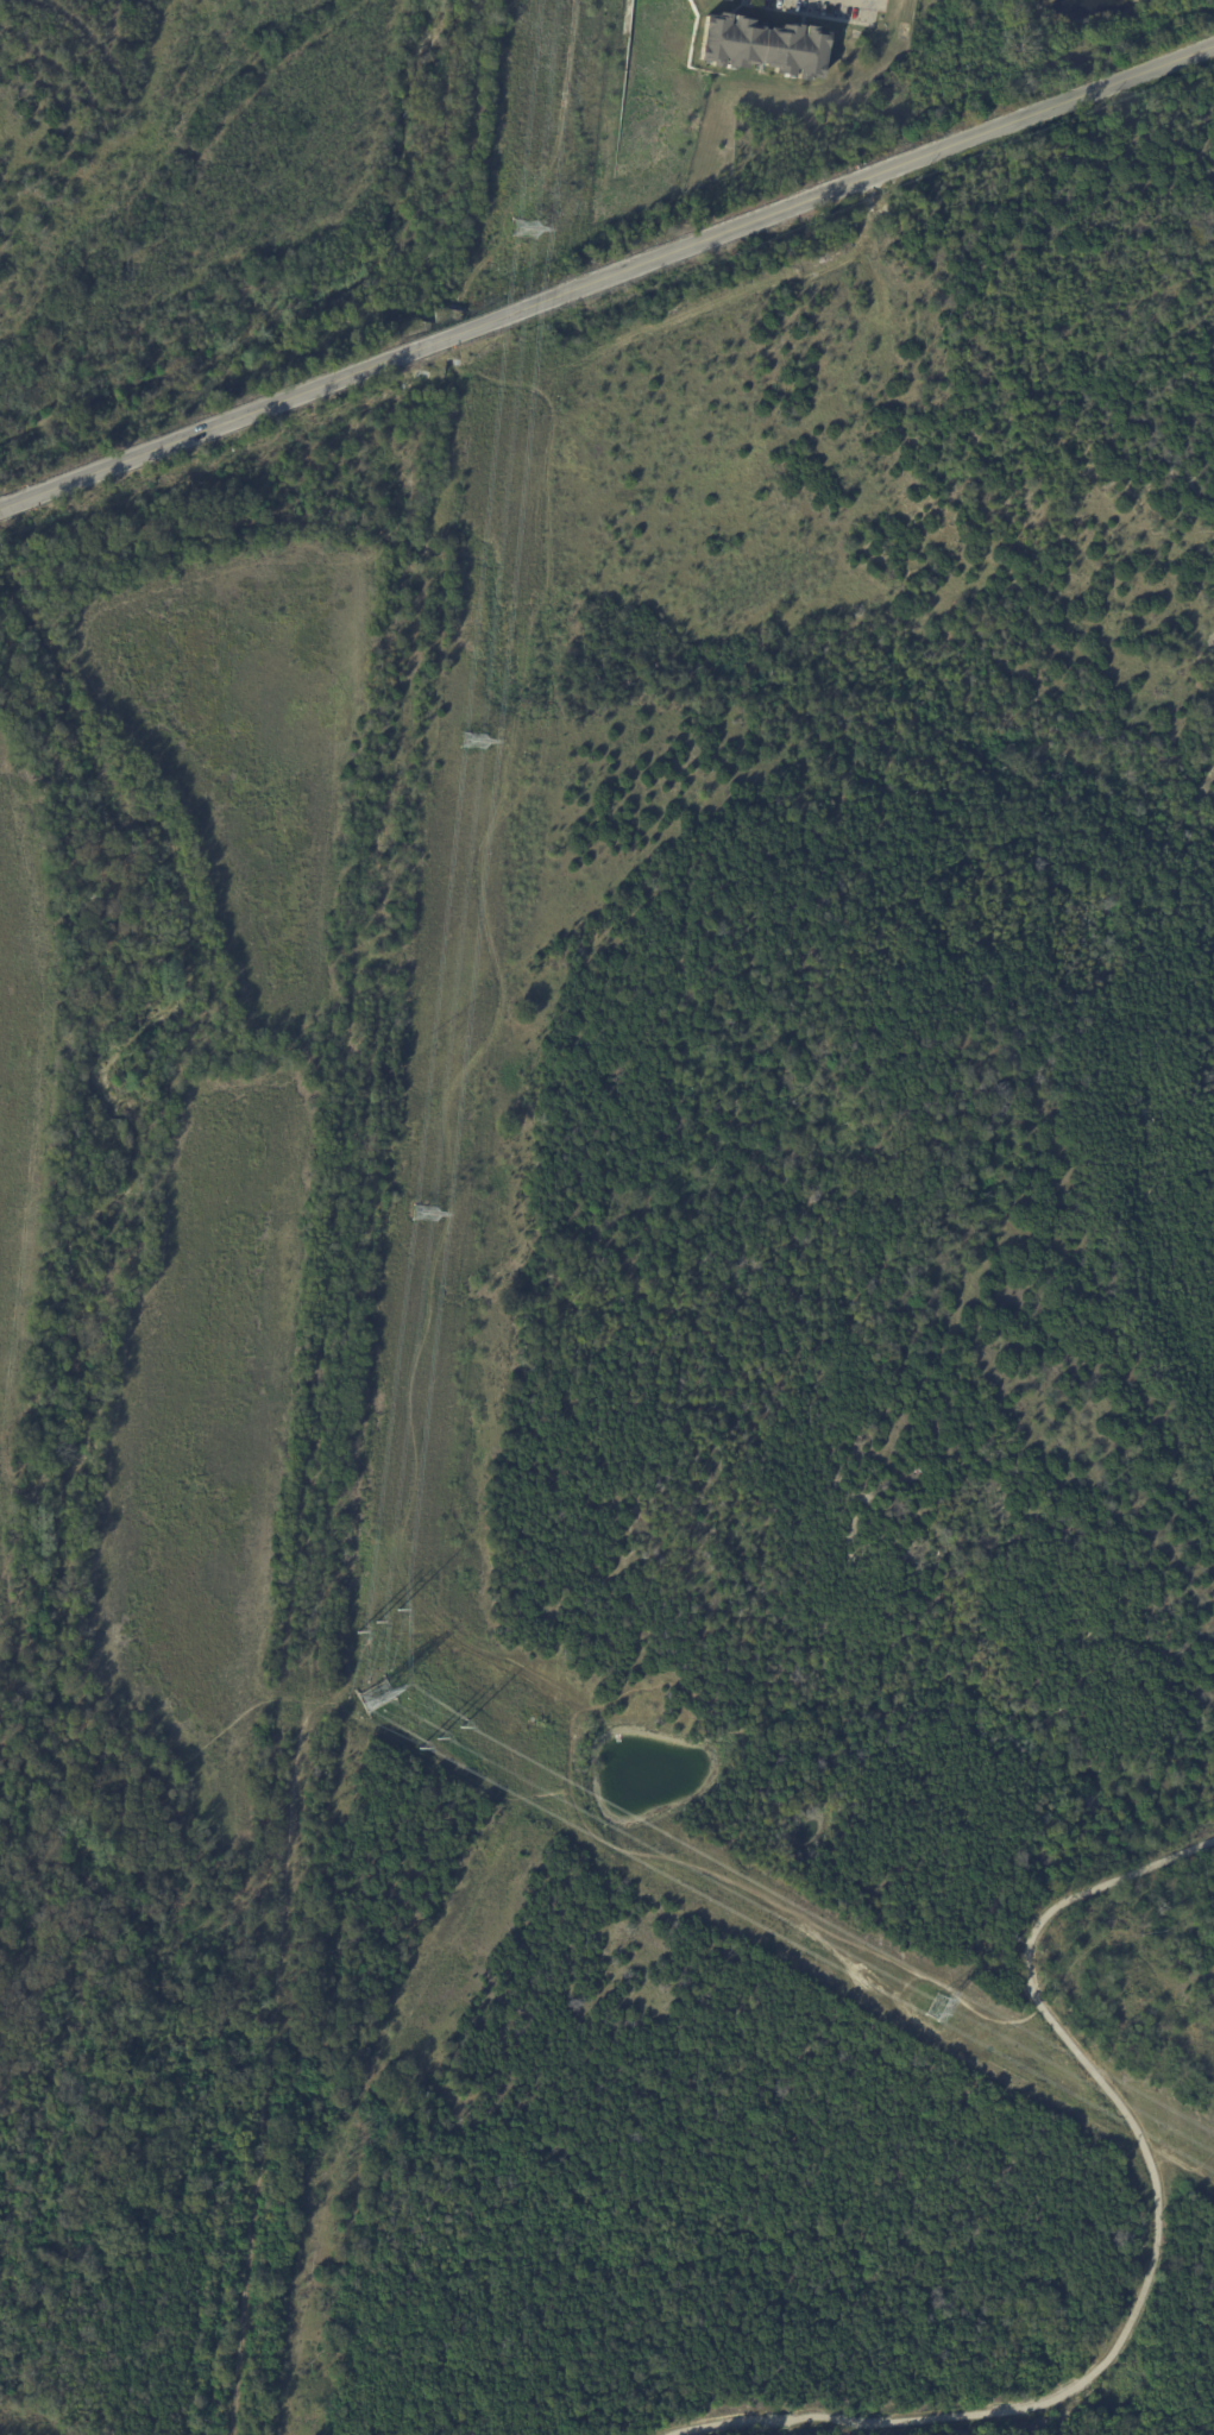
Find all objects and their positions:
building: (766, 46)
power tower: (528, 228)
road: (605, 269)
power tower: (474, 738)
power tower: (424, 1210)
power tower: (375, 1698)
power tower: (936, 2007)
road: (1158, 2241)

